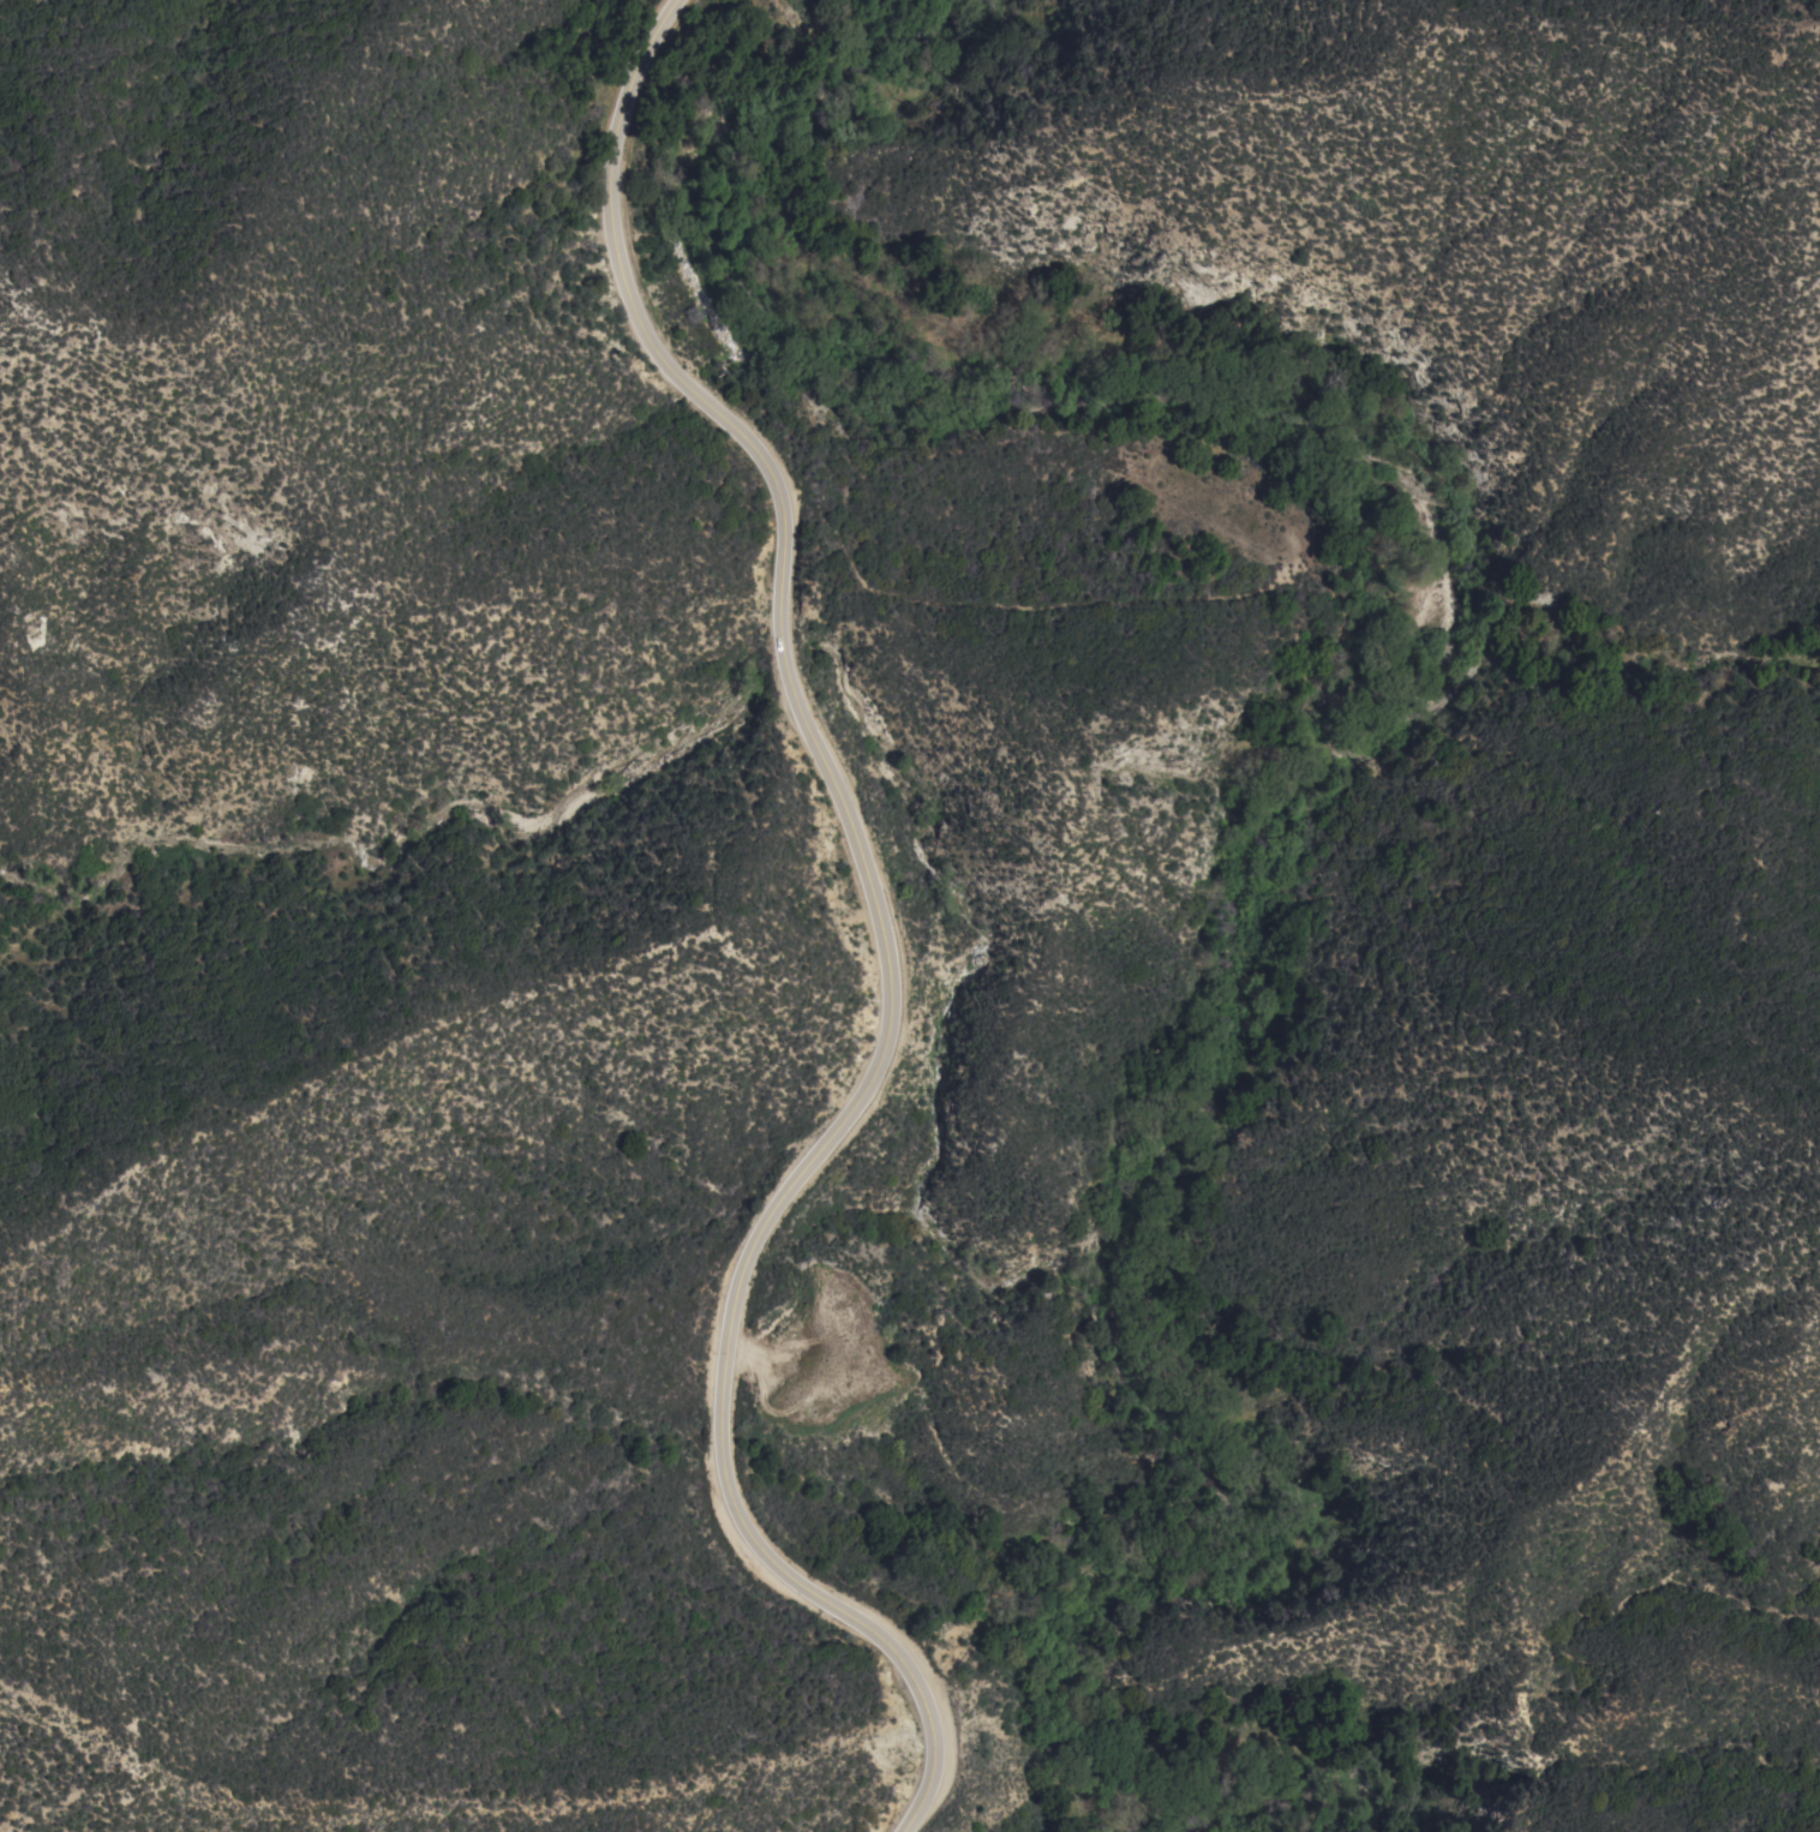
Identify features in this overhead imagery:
road: (884, 940)

